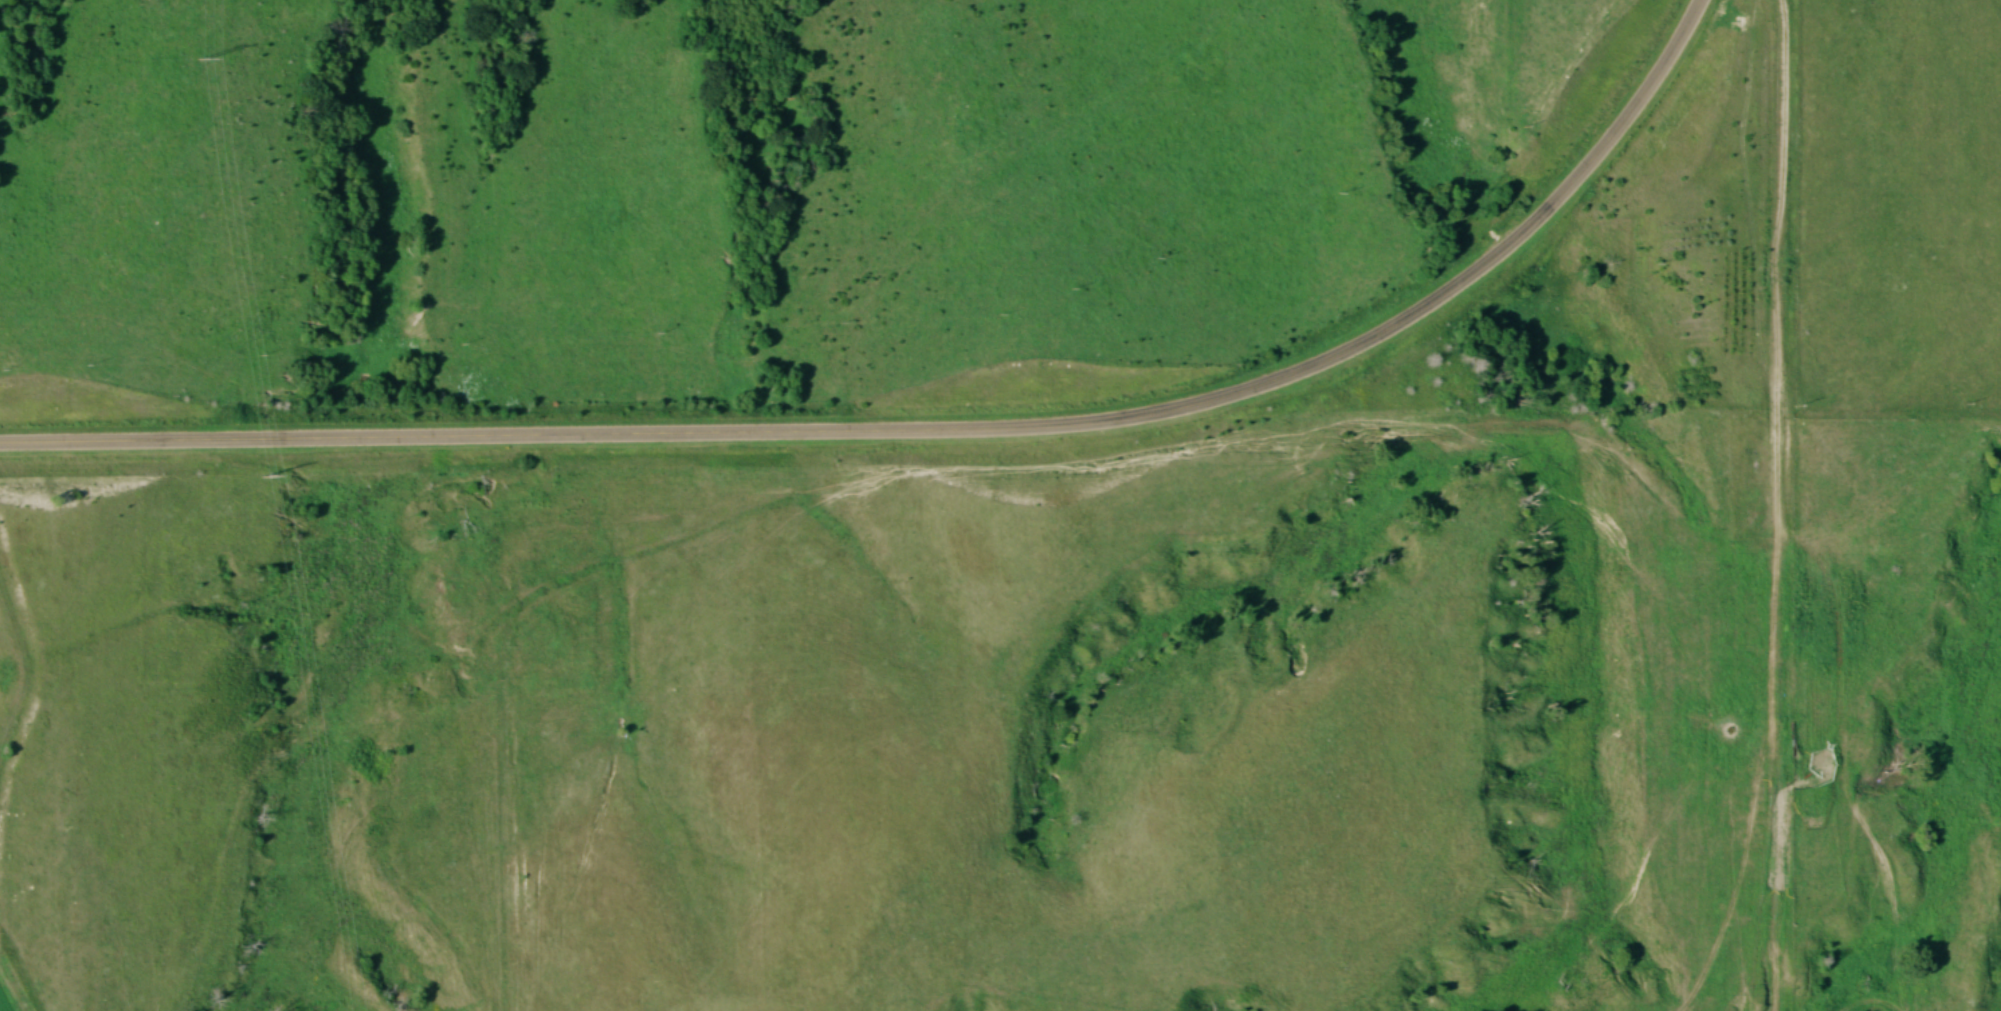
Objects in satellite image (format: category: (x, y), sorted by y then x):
power tower: (202, 61)
road: (935, 428)
power tower: (266, 479)

